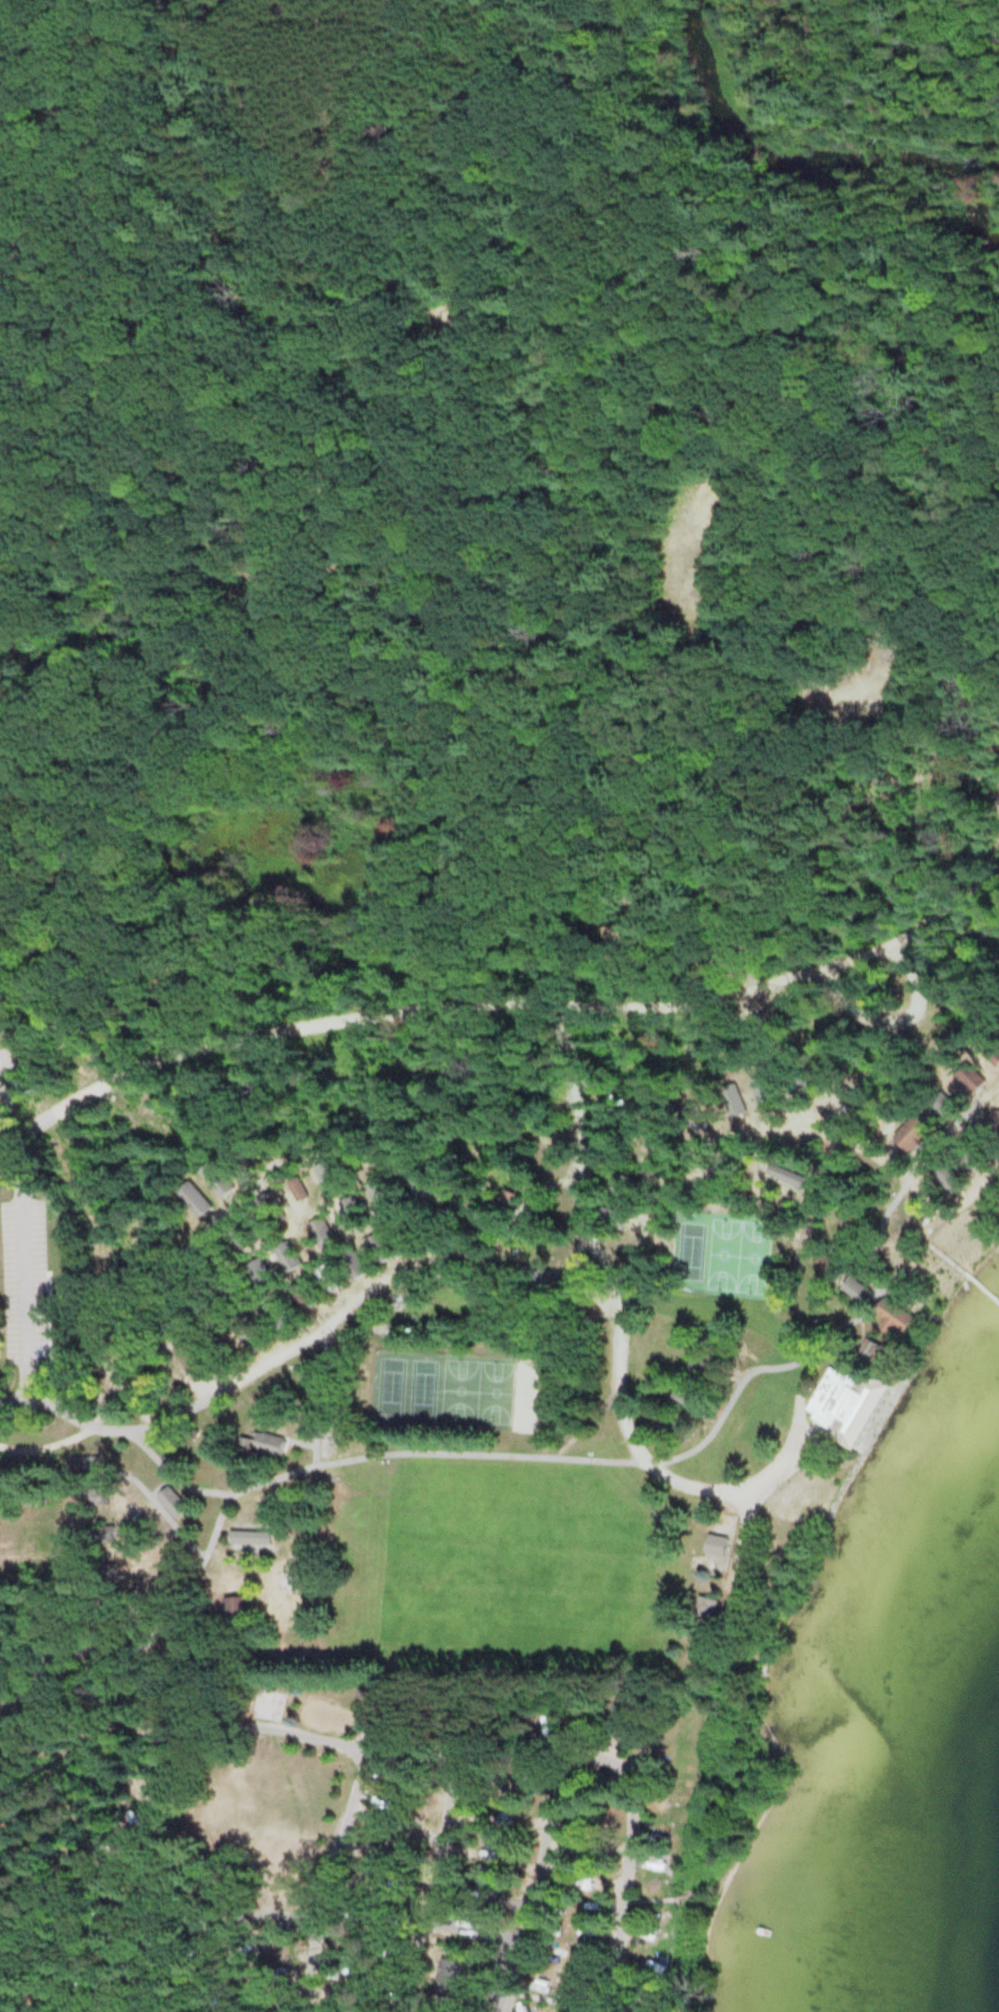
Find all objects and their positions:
road: (694, 249)
road: (405, 477)
road: (500, 1000)
building: (945, 1106)
parking lot: (2, 1107)
road: (6, 1108)
building: (994, 1124)
building: (913, 1135)
road: (1, 1156)
building: (240, 1167)
building: (216, 1181)
building: (419, 1187)
building: (378, 1193)
building: (505, 1199)
building: (194, 1200)
building: (270, 1210)
building: (352, 1213)
building: (609, 1219)
building: (239, 1234)
building: (322, 1234)
road: (589, 1244)
building: (378, 1247)
park: (687, 1249)
park: (722, 1251)
park: (752, 1253)
building: (288, 1257)
building: (353, 1264)
building: (831, 1270)
parking lot: (26, 1273)
building: (259, 1274)
road: (482, 1276)
building: (533, 1277)
building: (326, 1278)
building: (858, 1291)
building: (233, 1294)
building: (298, 1296)
road: (21, 1299)
building: (205, 1312)
building: (275, 1316)
building: (894, 1316)
building: (698, 1371)
park: (389, 1381)
park: (422, 1382)
park: (459, 1386)
park: (495, 1389)
park: (529, 1391)
building: (849, 1396)
road: (803, 1397)
road: (319, 1401)
road: (176, 1417)
building: (674, 1428)
road: (51, 1443)
building: (269, 1444)
building: (189, 1453)
road: (542, 1457)
building: (87, 1467)
building: (172, 1502)
building: (250, 1538)
building: (716, 1546)
building: (235, 1609)
building: (705, 1612)
park: (269, 1703)
park: (327, 1715)
road: (99, 1730)
road: (391, 1750)
park: (267, 1809)
park: (367, 1845)
road: (330, 1880)
road: (433, 1882)
road: (538, 1884)
building: (650, 1889)
road: (657, 1899)
road: (224, 1918)
parking lot: (504, 1961)
road: (474, 1975)
building: (451, 1977)
road: (481, 1977)
road: (559, 1998)
parking lot: (494, 2000)

